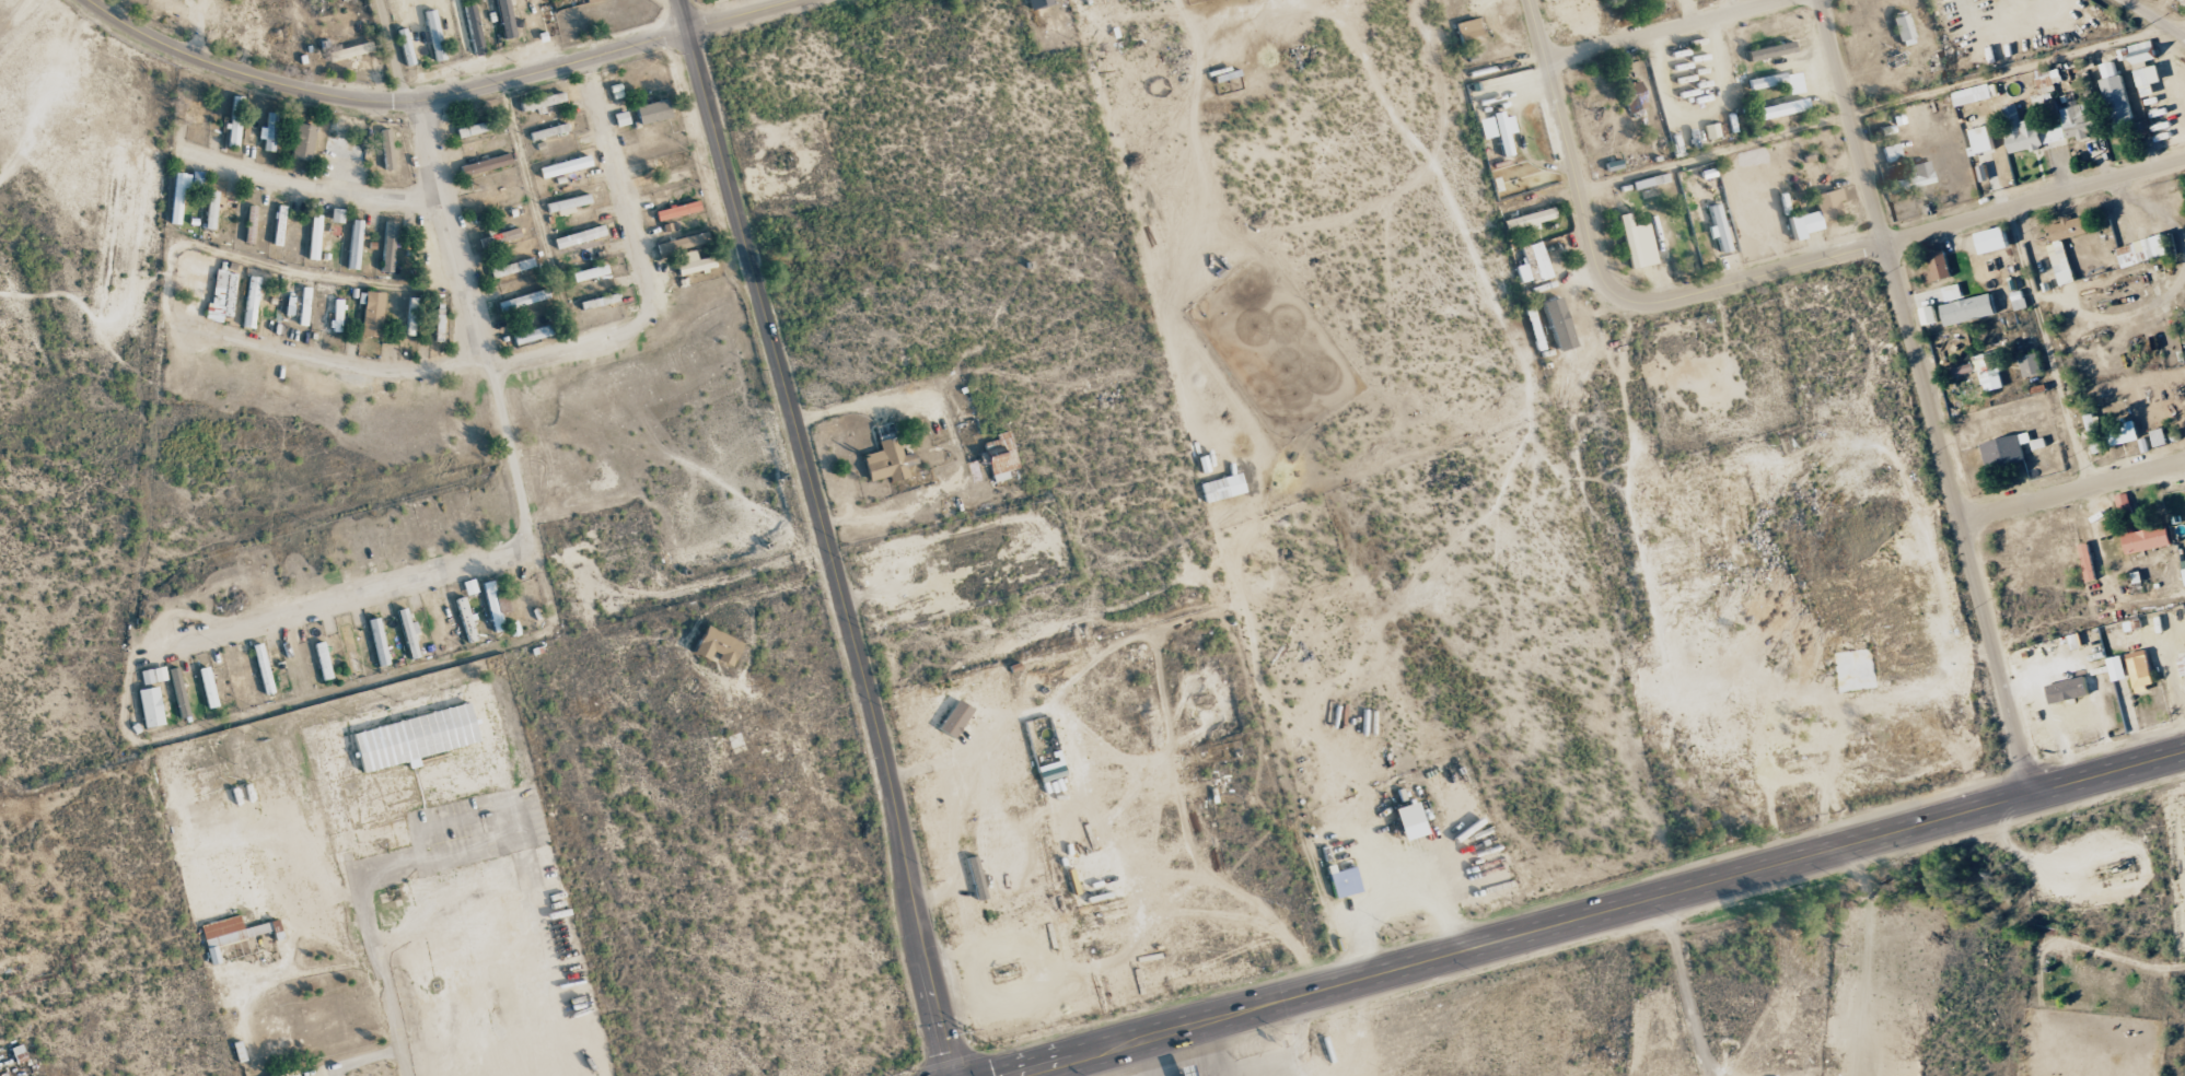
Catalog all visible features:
building: (1627, 0)
building: (592, 1)
building: (1038, 3)
road: (742, 15)
road: (2158, 16)
building: (505, 19)
building: (474, 28)
building: (1904, 30)
building: (1468, 32)
road: (1664, 32)
building: (434, 35)
road: (397, 50)
building: (349, 51)
building: (407, 51)
building: (1770, 51)
building: (2048, 80)
building: (2147, 82)
building: (1794, 83)
building: (1973, 95)
building: (1634, 96)
road: (42, 98)
building: (2117, 98)
road: (382, 102)
building: (542, 102)
building: (1783, 108)
building: (653, 112)
building: (620, 119)
road: (1560, 119)
building: (2080, 120)
building: (1486, 128)
building: (234, 129)
building: (470, 130)
building: (548, 131)
building: (1711, 131)
building: (269, 132)
building: (2030, 132)
building: (1502, 133)
building: (1985, 140)
building: (303, 142)
building: (387, 150)
building: (1892, 152)
building: (485, 164)
building: (565, 166)
building: (1913, 177)
building: (672, 178)
road: (312, 188)
building: (178, 196)
building: (568, 204)
building: (211, 210)
building: (677, 211)
road: (536, 213)
building: (1817, 214)
building: (1529, 220)
building: (251, 224)
building: (279, 225)
building: (1719, 229)
building: (2068, 229)
building: (580, 236)
building: (314, 237)
building: (501, 237)
building: (682, 243)
building: (1637, 243)
building: (355, 244)
road: (1874, 245)
building: (388, 247)
building: (2145, 252)
building: (693, 264)
building: (1533, 264)
building: (2062, 264)
building: (512, 268)
building: (1939, 268)
building: (590, 272)
building: (1953, 293)
building: (221, 296)
building: (523, 300)
building: (251, 302)
building: (598, 302)
building: (304, 306)
building: (1971, 309)
building: (337, 315)
building: (372, 315)
building: (1929, 315)
building: (411, 316)
building: (439, 323)
building: (532, 335)
road: (2046, 348)
road: (547, 352)
park: (74, 359)
building: (2031, 365)
building: (1990, 372)
road: (1928, 398)
building: (2124, 433)
building: (2008, 449)
building: (888, 459)
road: (2072, 492)
building: (2125, 504)
road: (527, 506)
road: (825, 535)
building: (2184, 569)
building: (469, 586)
building: (496, 605)
building: (358, 620)
building: (466, 620)
building: (408, 633)
building: (377, 642)
building: (718, 646)
building: (350, 648)
building: (323, 660)
building: (2182, 665)
road: (415, 666)
building: (2118, 668)
building: (2141, 668)
building: (153, 675)
building: (208, 687)
building: (2068, 690)
building: (151, 706)
building: (955, 718)
building: (415, 737)
building: (1410, 821)
river: (1773, 862)
building: (1345, 882)
road: (1605, 915)
building: (228, 934)
road: (379, 972)
road: (1684, 987)
road: (1300, 1039)
road: (1219, 1050)
road: (1138, 1061)
building: (1183, 1069)
building: (290, 1074)

